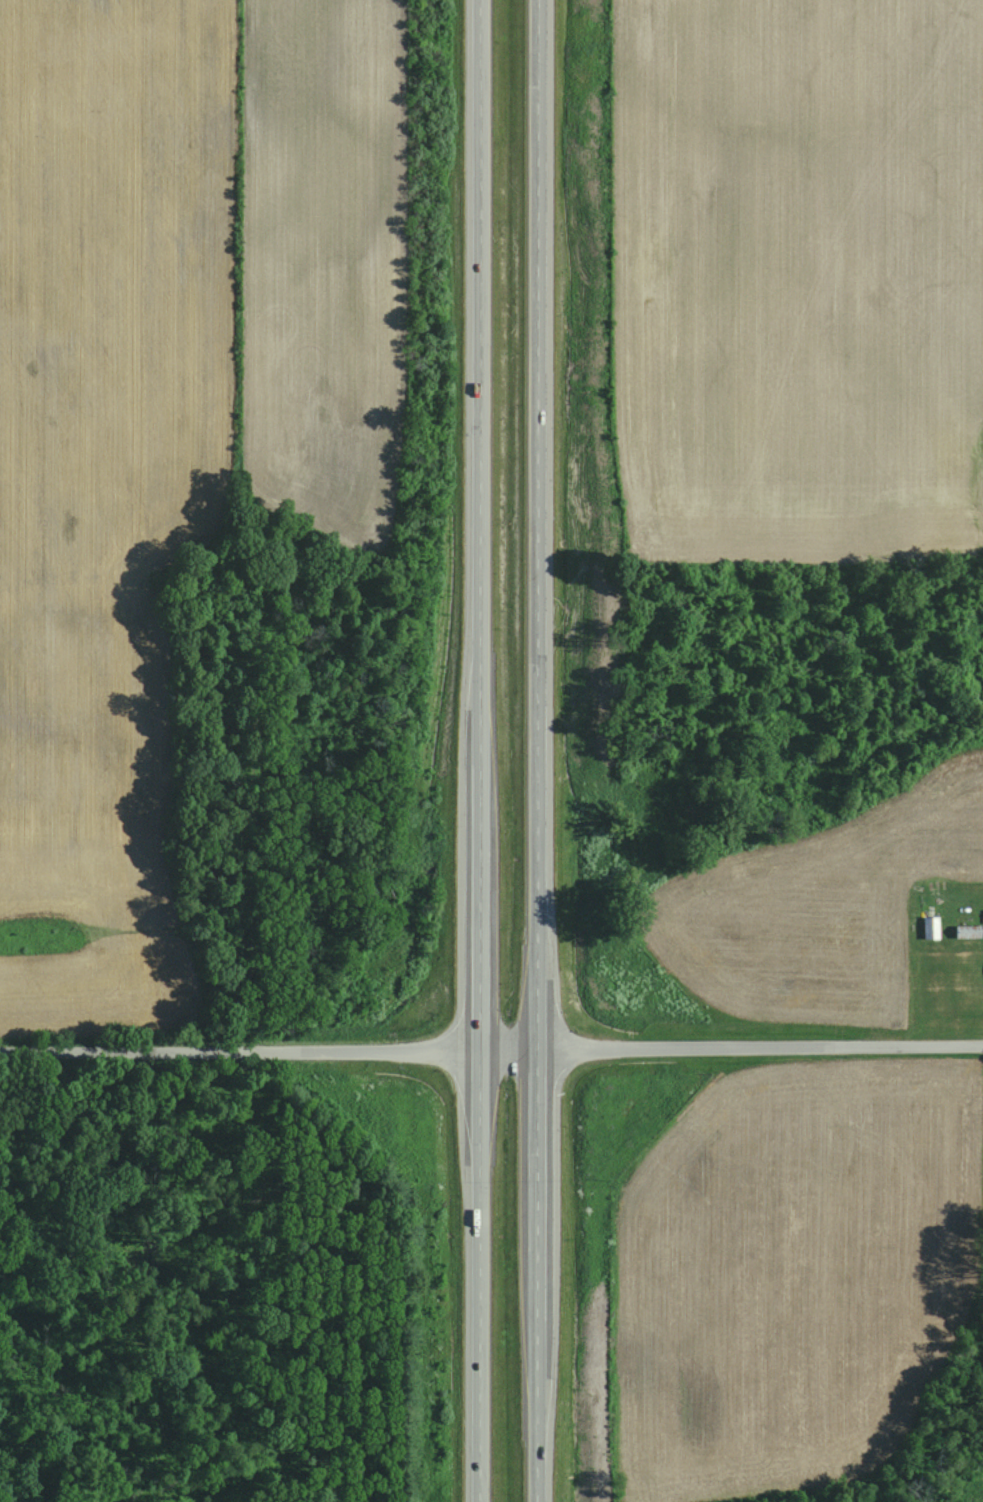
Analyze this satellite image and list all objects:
road: (480, 750)
road: (538, 751)
building: (931, 928)
building: (968, 932)
road: (760, 1049)
road: (268, 1051)

